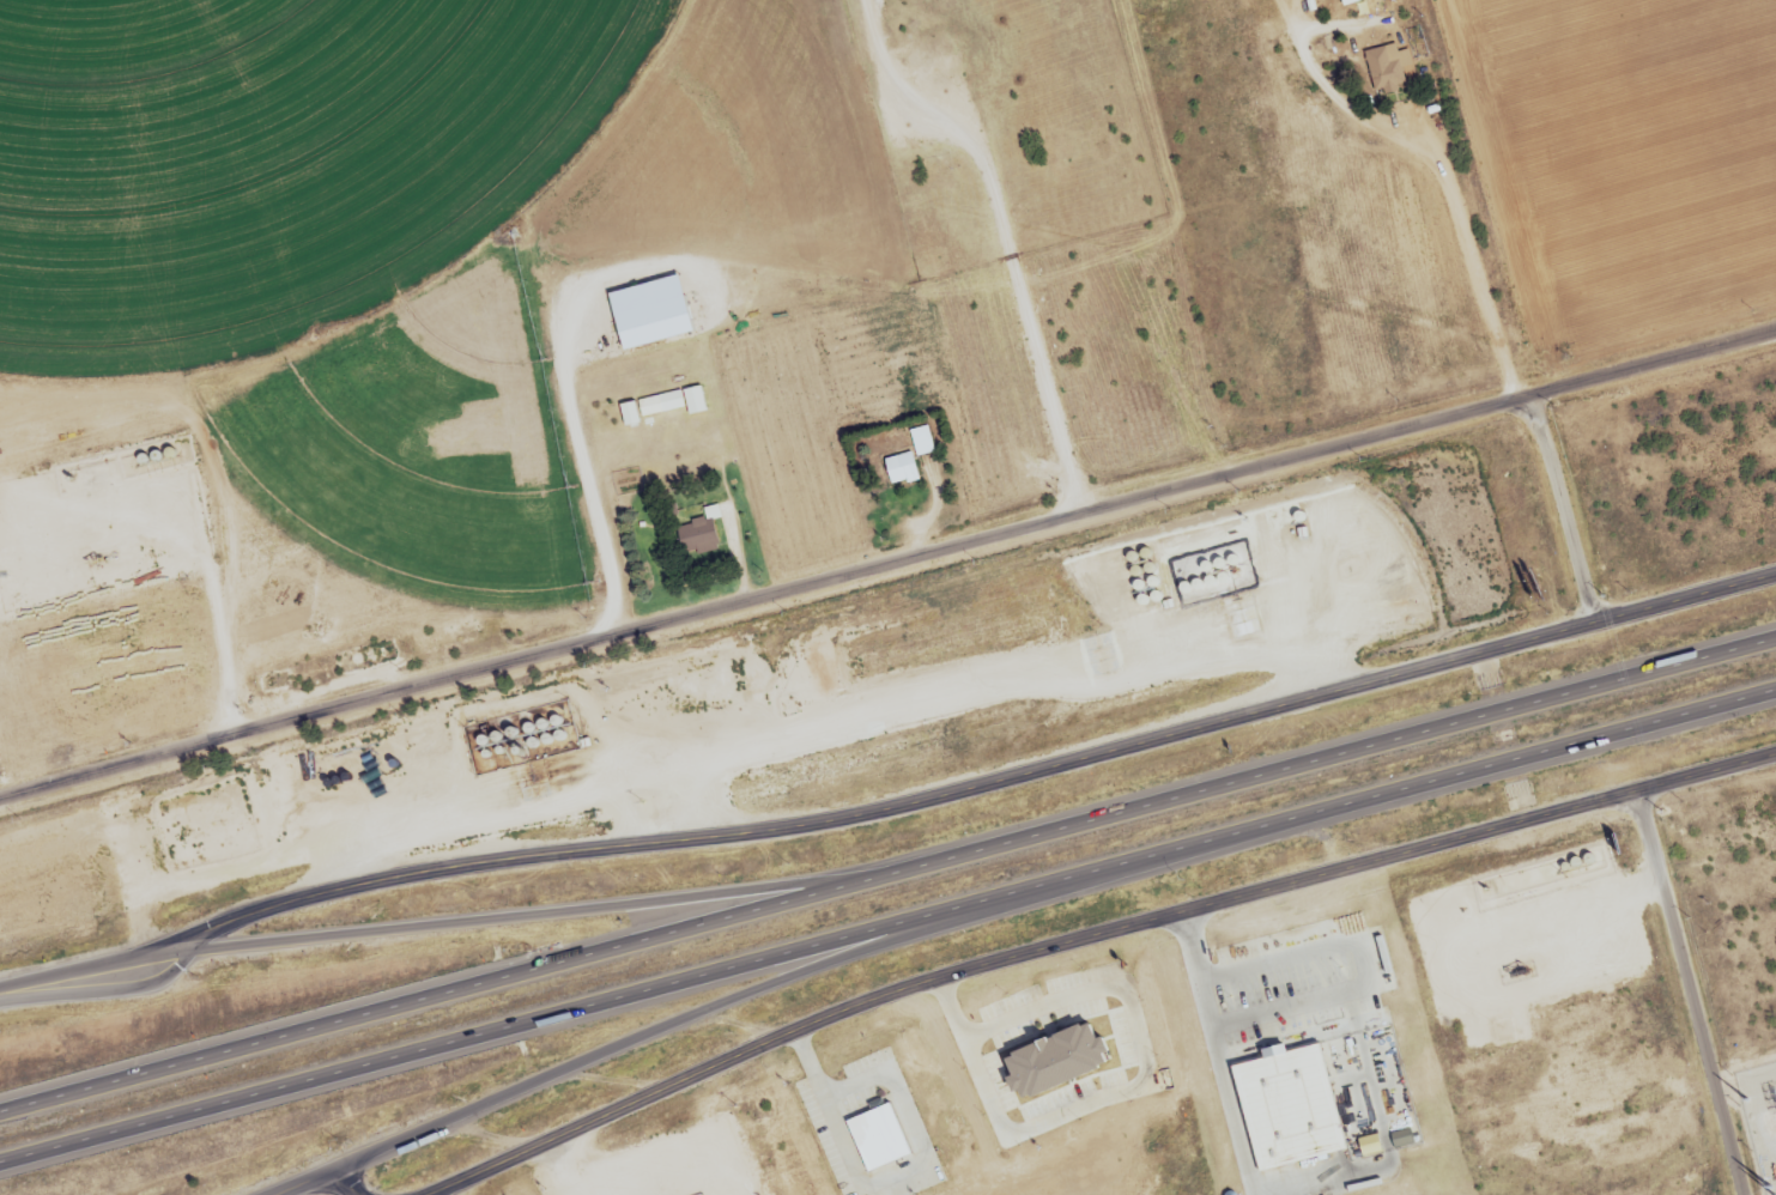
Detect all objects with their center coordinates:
building: (1388, 65)
road: (1433, 154)
road: (1001, 235)
building: (662, 404)
building: (923, 441)
building: (902, 468)
road: (1564, 509)
road: (887, 565)
road: (1705, 770)
road: (980, 783)
road: (887, 875)
road: (551, 911)
road: (887, 924)
road: (1022, 953)
road: (819, 966)
road: (90, 970)
road: (1689, 991)
road: (99, 993)
road: (1220, 1051)
power tower: (1745, 1098)
power substation: (1760, 1116)
road: (298, 1185)
road: (345, 1185)
power tower: (1766, 1187)
power tower: (1775, 1194)

